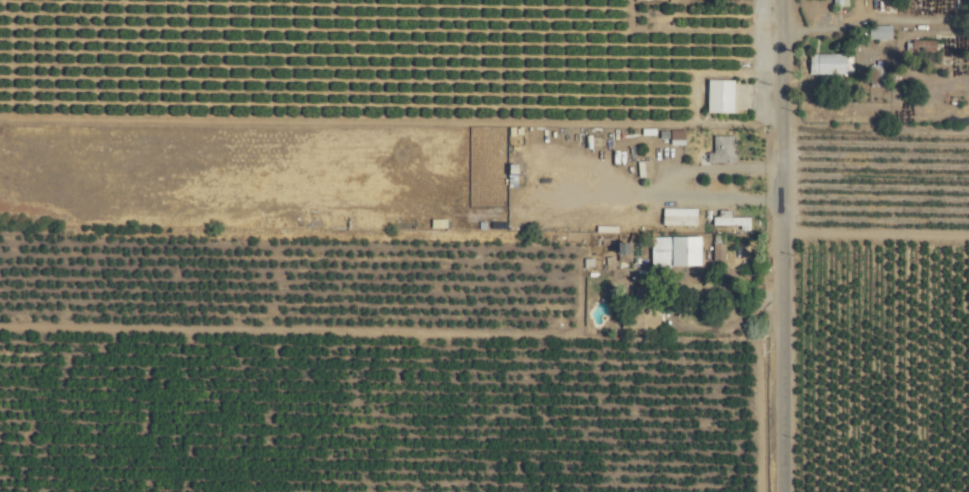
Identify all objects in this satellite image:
building: (837, 2)
road: (858, 22)
building: (878, 32)
building: (829, 63)
building: (874, 75)
building: (718, 96)
building: (675, 137)
building: (721, 149)
building: (643, 168)
building: (677, 216)
building: (729, 220)
crop: (484, 246)
road: (783, 246)
building: (673, 251)
building: (643, 318)

